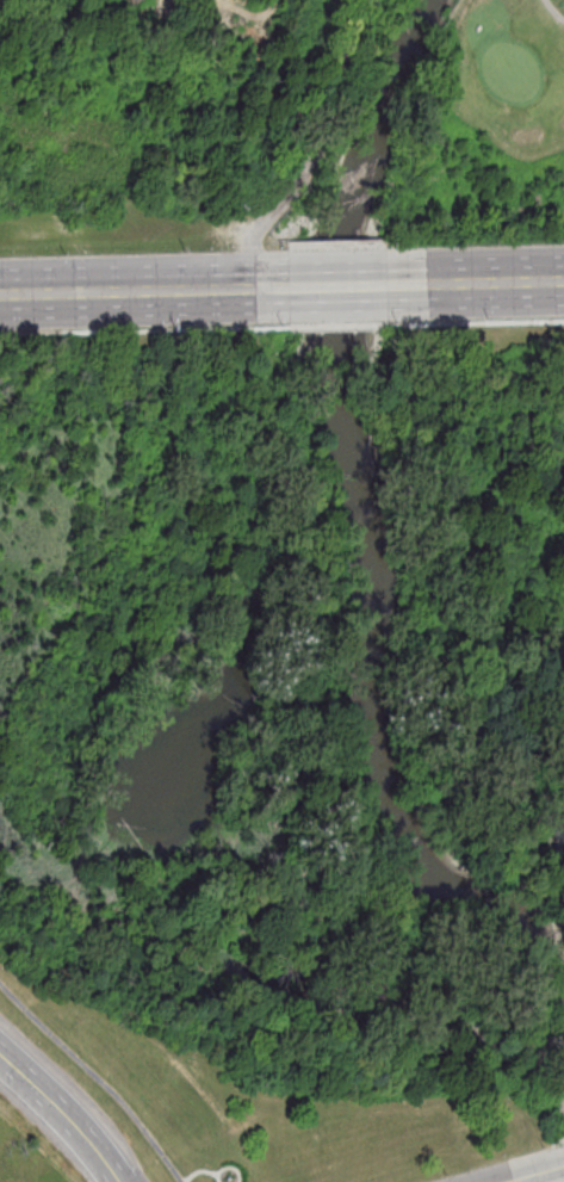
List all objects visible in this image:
road: (552, 10)
park: (335, 101)
road: (306, 147)
park: (100, 167)
road: (476, 283)
road: (337, 286)
road: (142, 290)
river: (337, 414)
park: (283, 761)
river: (485, 899)
road: (95, 1081)
road: (61, 1118)
road: (227, 1165)
road: (560, 1166)
road: (197, 1170)
road: (531, 1175)

